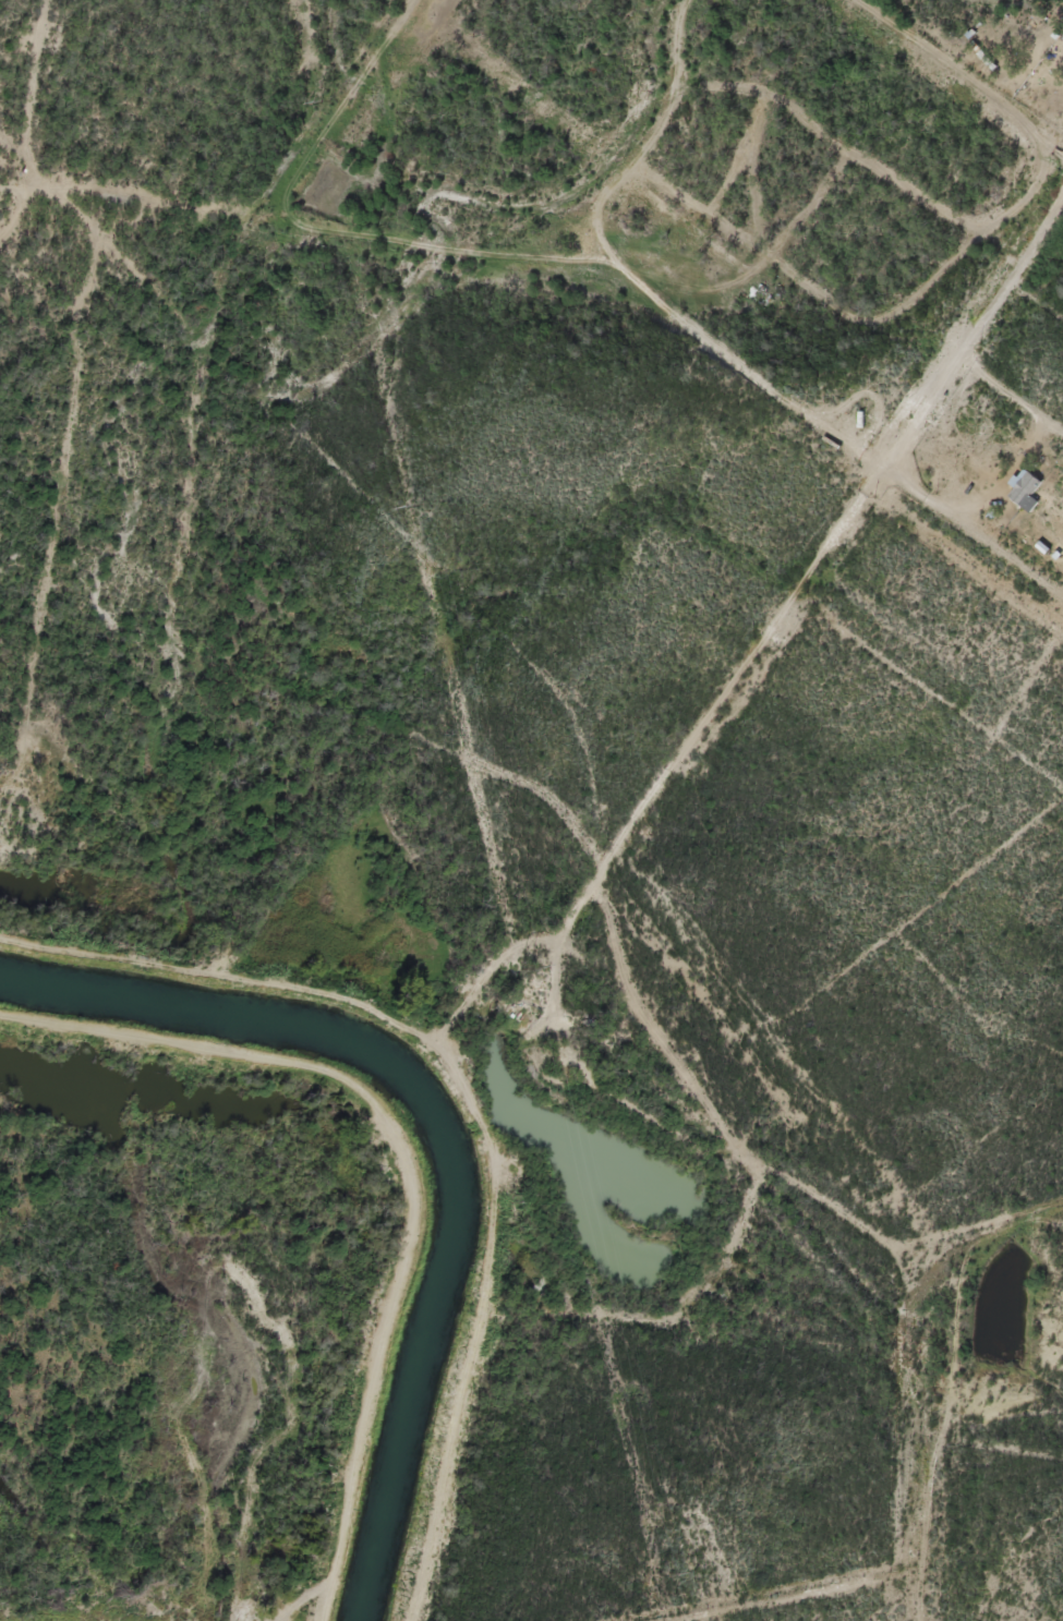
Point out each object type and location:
power tower: (324, 101)
road: (194, 158)
building: (1027, 486)
power tower: (419, 506)
power tower: (527, 968)
road: (590, 971)
road: (602, 1353)
power tower: (662, 1575)

